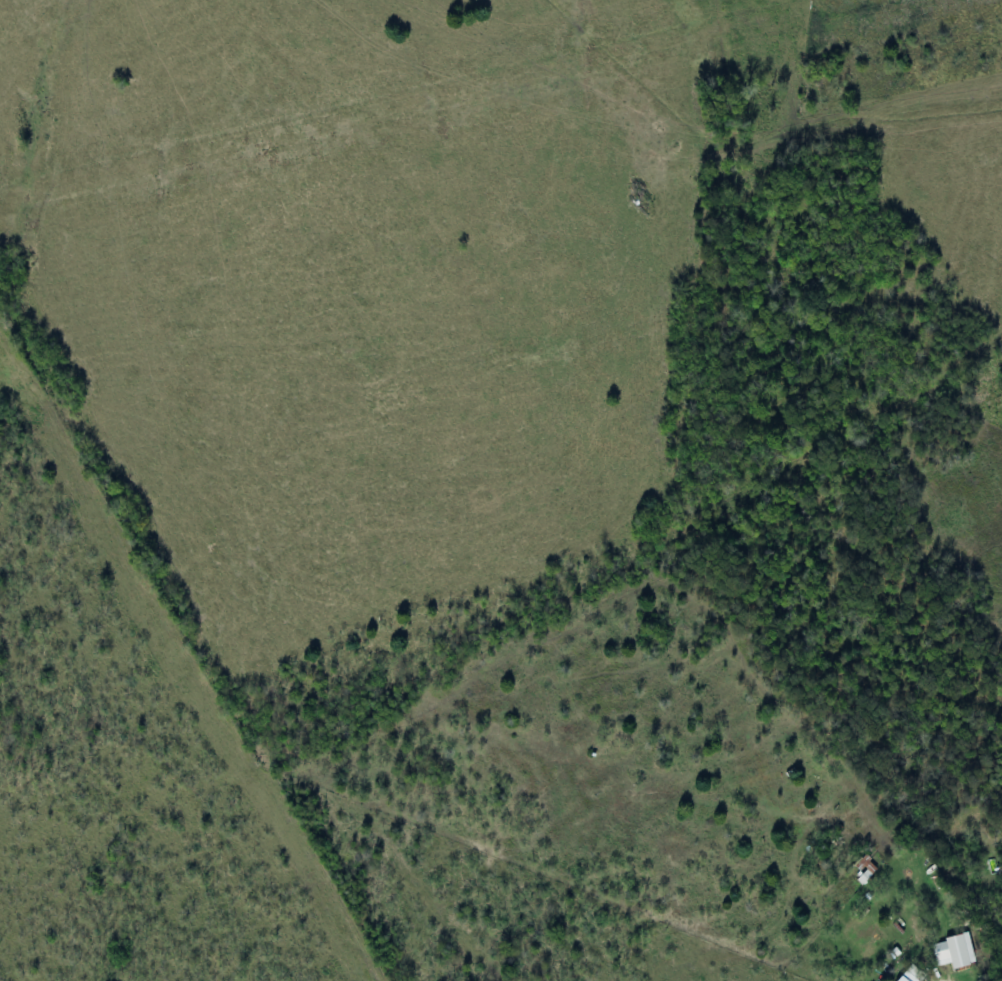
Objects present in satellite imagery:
building: (867, 869)
building: (956, 952)
building: (914, 974)

